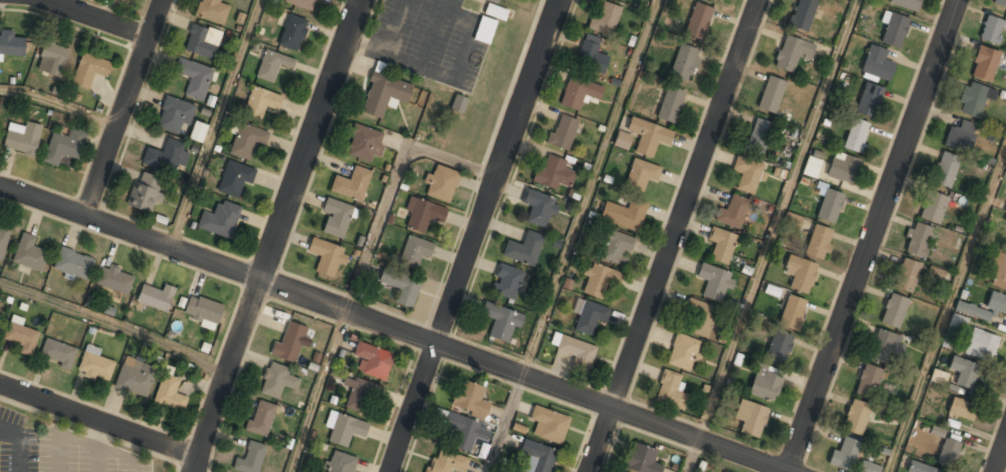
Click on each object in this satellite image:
building: (497, 1)
building: (1000, 3)
building: (302, 4)
building: (905, 4)
building: (212, 11)
building: (495, 12)
building: (802, 14)
road: (98, 19)
building: (605, 19)
building: (698, 20)
building: (893, 29)
building: (486, 30)
building: (991, 30)
building: (291, 31)
building: (202, 42)
building: (11, 45)
building: (792, 52)
building: (591, 55)
building: (53, 59)
building: (684, 61)
building: (877, 64)
building: (984, 64)
building: (272, 65)
building: (89, 70)
building: (194, 78)
building: (578, 92)
building: (384, 94)
building: (771, 94)
building: (972, 99)
building: (869, 100)
building: (260, 102)
building: (459, 103)
building: (670, 105)
road: (59, 106)
road: (124, 108)
building: (175, 115)
road: (213, 123)
building: (197, 131)
building: (563, 132)
building: (855, 135)
building: (648, 136)
building: (961, 136)
building: (758, 137)
building: (22, 139)
building: (247, 140)
building: (623, 140)
building: (364, 143)
building: (64, 146)
building: (165, 157)
building: (812, 167)
building: (842, 167)
building: (945, 170)
building: (641, 173)
building: (553, 174)
building: (747, 175)
building: (235, 178)
road: (394, 183)
building: (441, 183)
building: (352, 184)
road: (592, 188)
building: (146, 192)
building: (829, 206)
building: (539, 208)
building: (933, 208)
building: (732, 212)
building: (624, 214)
building: (423, 215)
building: (337, 218)
building: (220, 219)
road: (777, 220)
building: (792, 221)
building: (1005, 221)
road: (277, 235)
road: (871, 235)
road: (477, 236)
road: (674, 236)
building: (918, 240)
building: (3, 242)
building: (818, 242)
building: (721, 245)
building: (617, 248)
building: (524, 250)
building: (414, 252)
building: (29, 254)
building: (326, 258)
building: (74, 264)
building: (998, 270)
building: (800, 273)
building: (906, 275)
building: (115, 280)
building: (599, 280)
building: (507, 282)
building: (714, 282)
building: (401, 286)
building: (156, 297)
building: (996, 303)
road: (946, 307)
building: (203, 310)
building: (894, 311)
building: (792, 313)
building: (589, 316)
building: (698, 317)
building: (501, 322)
building: (958, 322)
road: (115, 326)
road: (395, 327)
building: (21, 336)
building: (289, 343)
building: (980, 345)
building: (885, 346)
building: (779, 347)
building: (575, 351)
building: (684, 352)
building: (57, 354)
building: (373, 361)
building: (95, 366)
building: (963, 372)
building: (135, 377)
building: (277, 380)
building: (868, 381)
building: (765, 383)
road: (318, 391)
building: (671, 392)
building: (170, 394)
building: (360, 395)
building: (470, 399)
building: (958, 412)
building: (856, 417)
building: (261, 418)
building: (751, 418)
road: (99, 421)
road: (508, 424)
building: (549, 424)
building: (345, 428)
building: (465, 432)
building: (948, 453)
building: (845, 454)
building: (537, 456)
road: (692, 456)
building: (250, 458)
road: (1001, 458)
building: (642, 459)
building: (341, 462)
building: (447, 462)
building: (868, 467)
building: (920, 468)
building: (724, 471)

